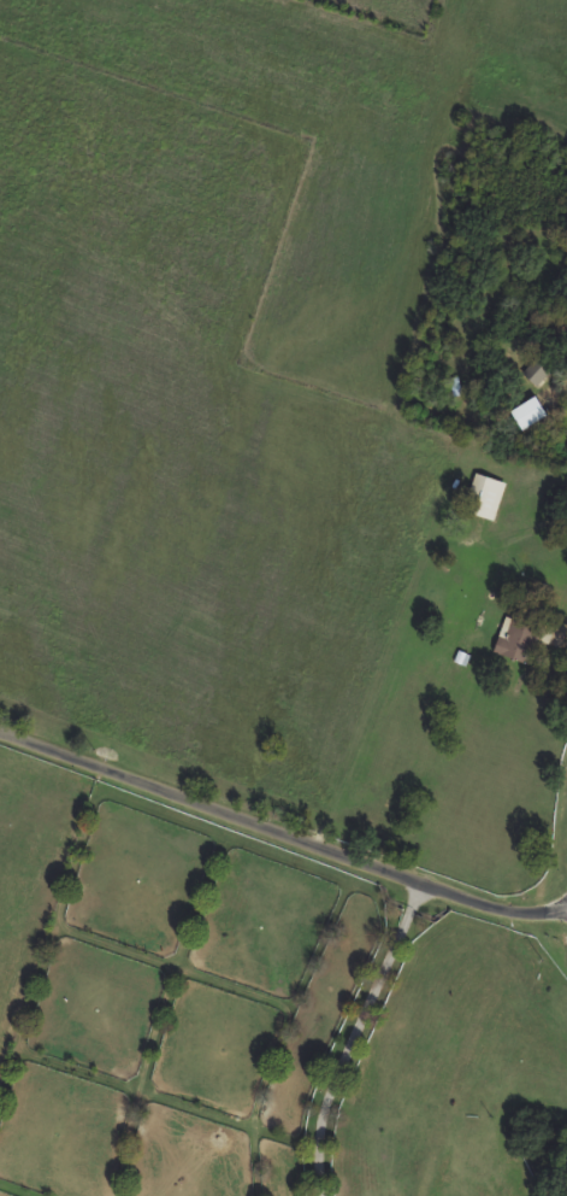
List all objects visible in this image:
building: (533, 370)
building: (525, 412)
building: (483, 497)
building: (514, 640)
road: (280, 839)
road: (350, 1037)

